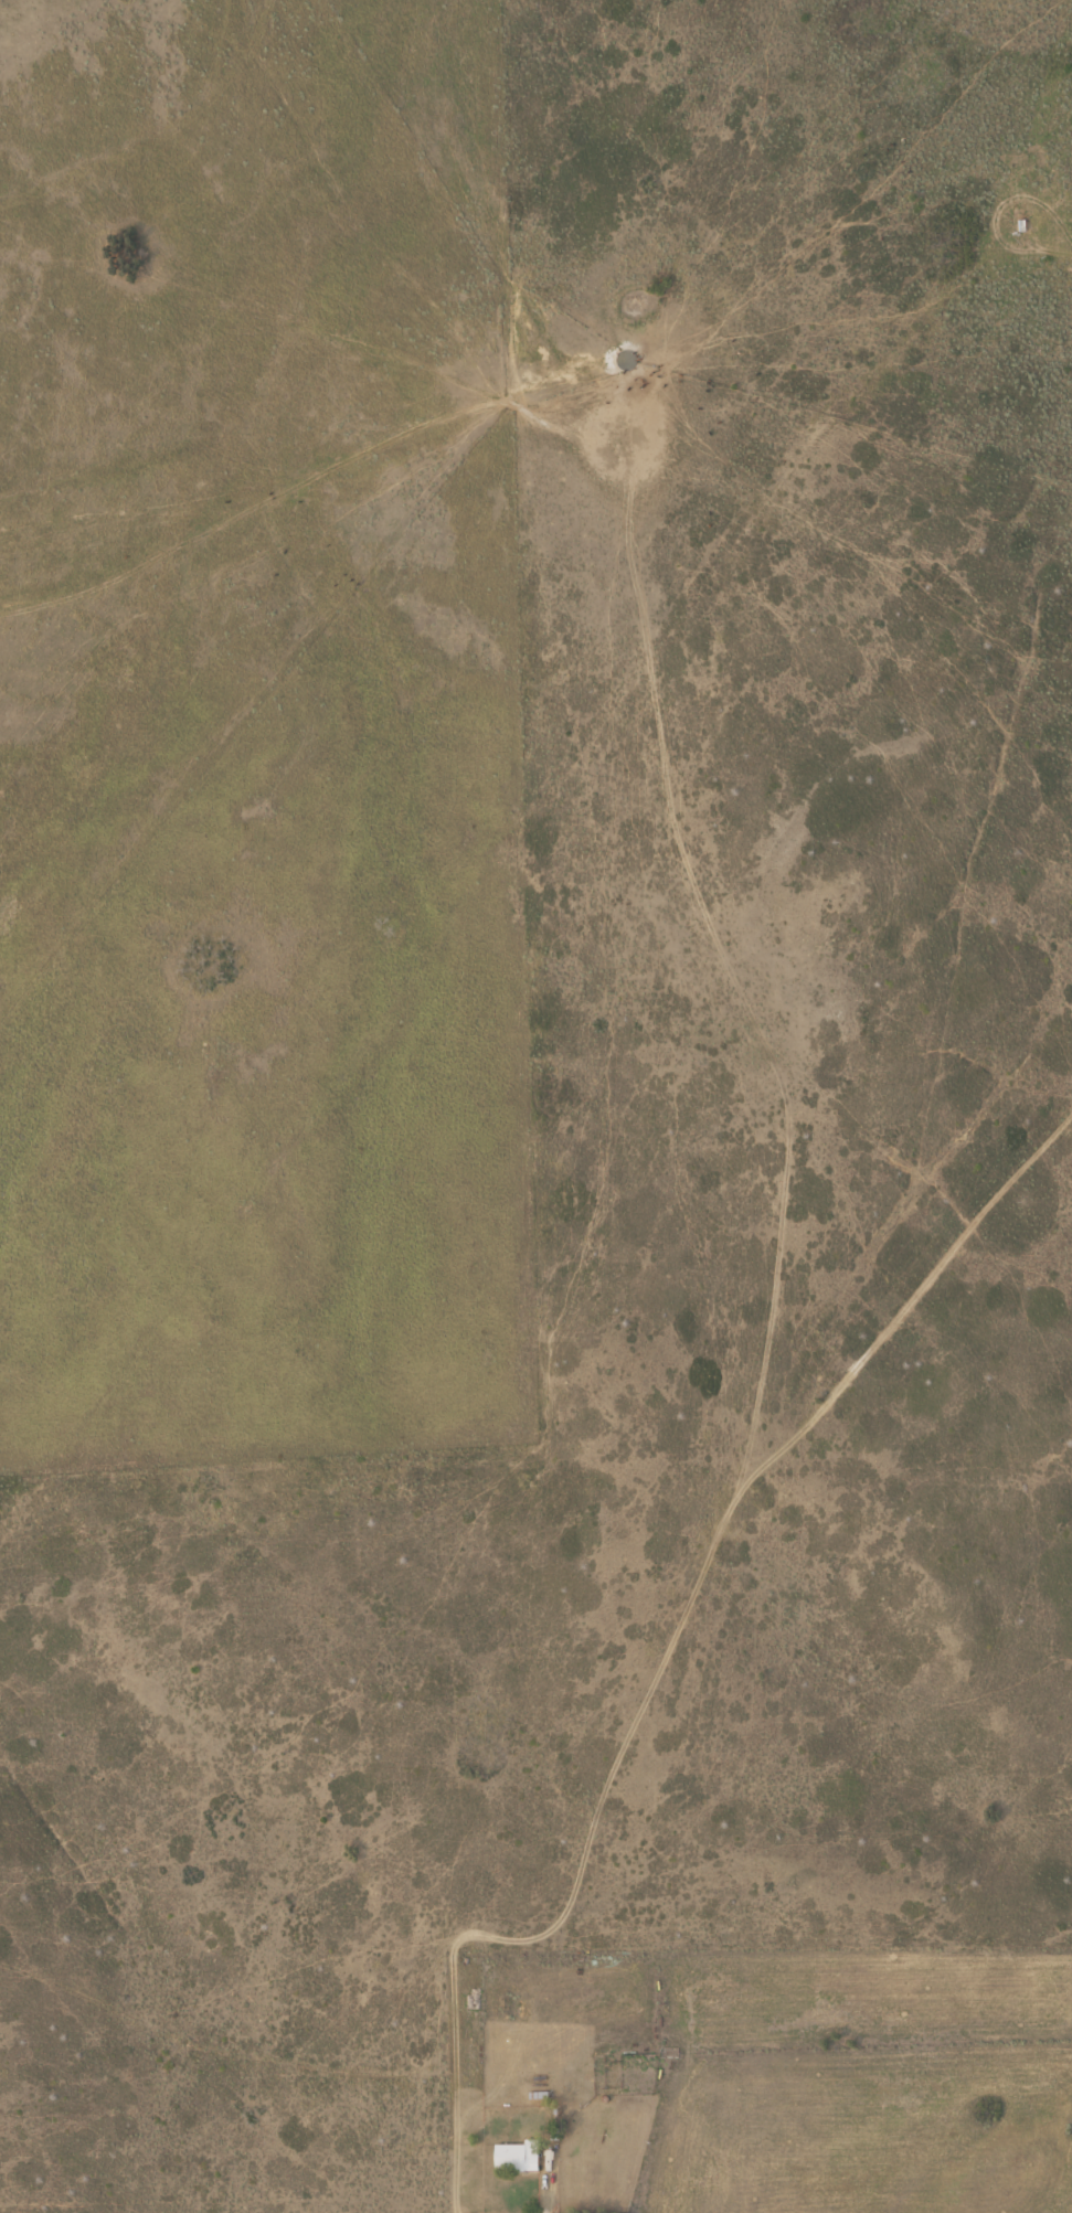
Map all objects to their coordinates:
building: (514, 2157)

